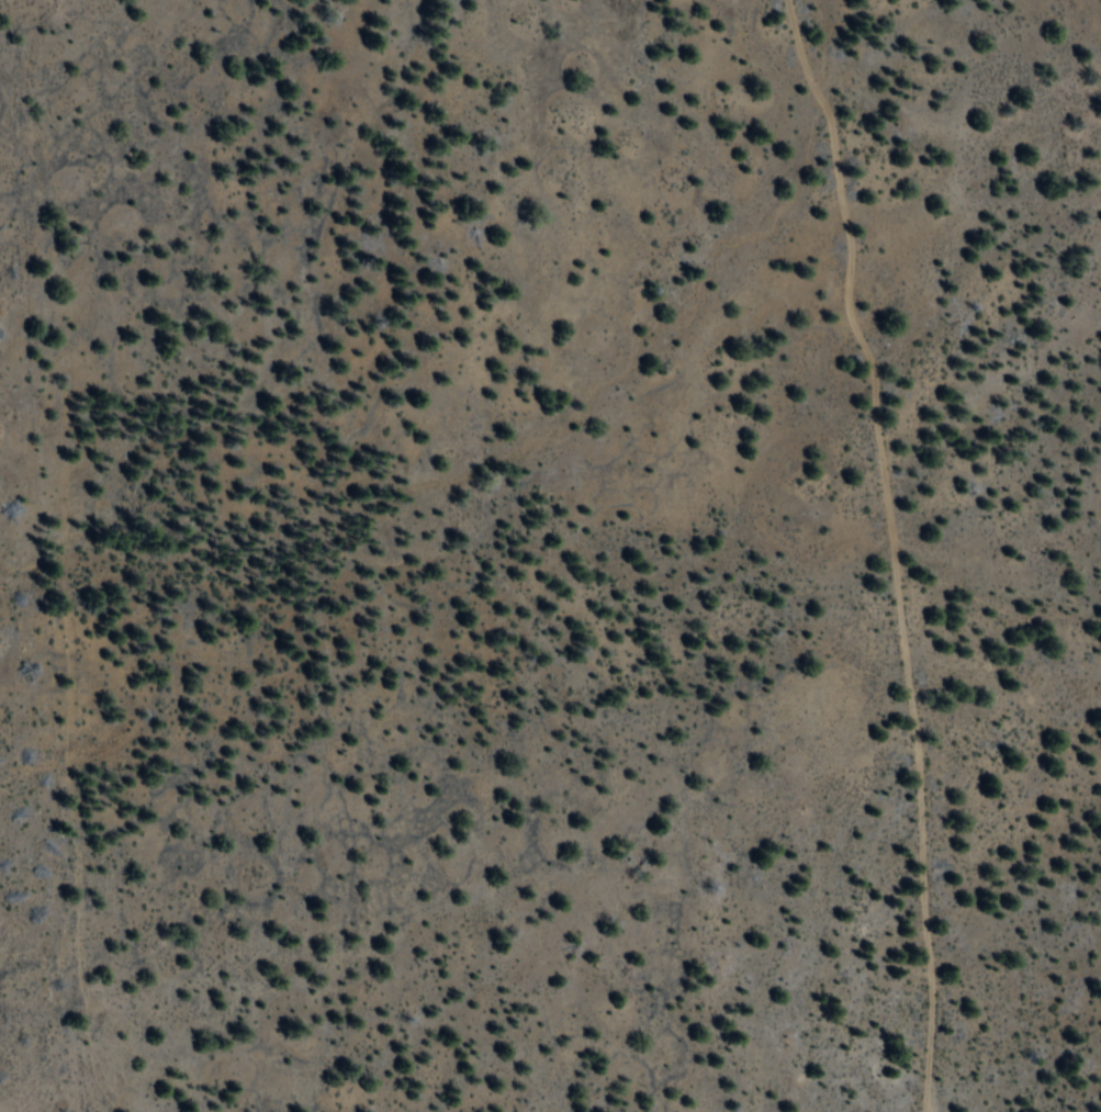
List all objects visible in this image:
road: (896, 549)

